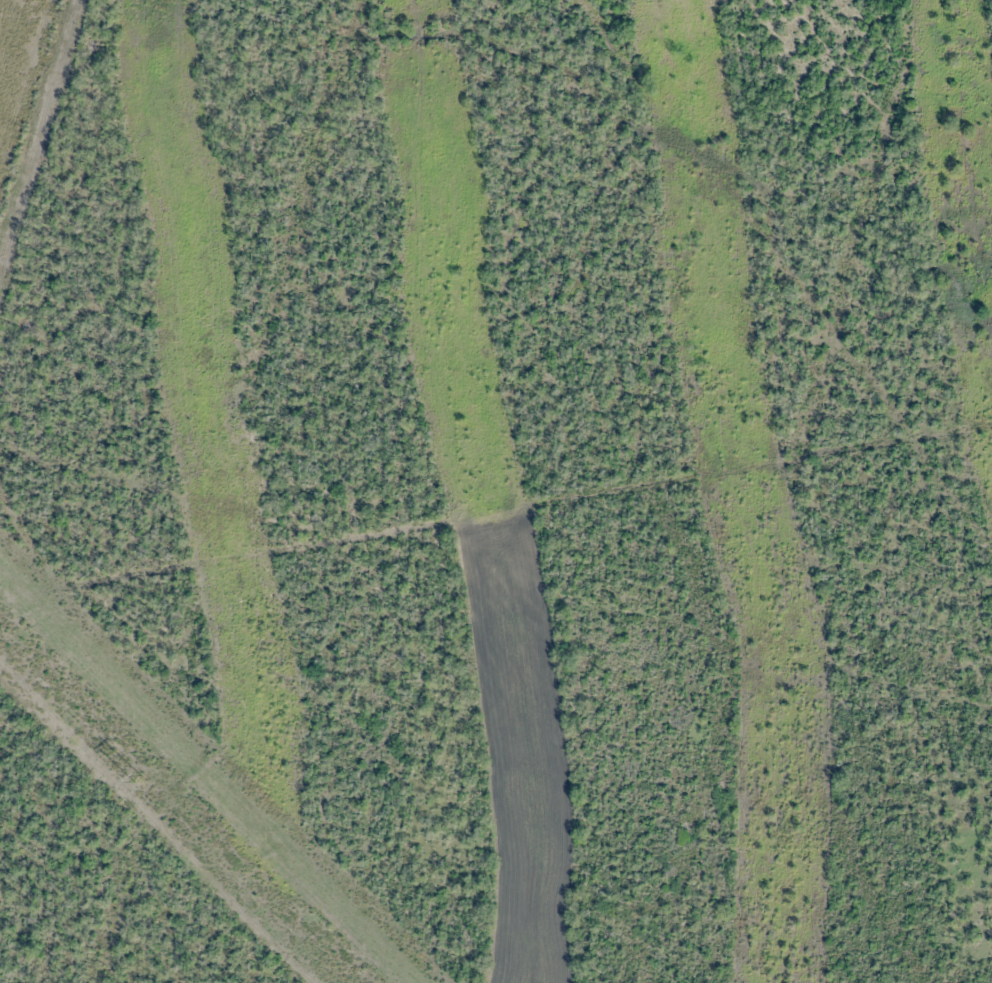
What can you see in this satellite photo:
road: (37, 129)
power tower: (136, 777)

